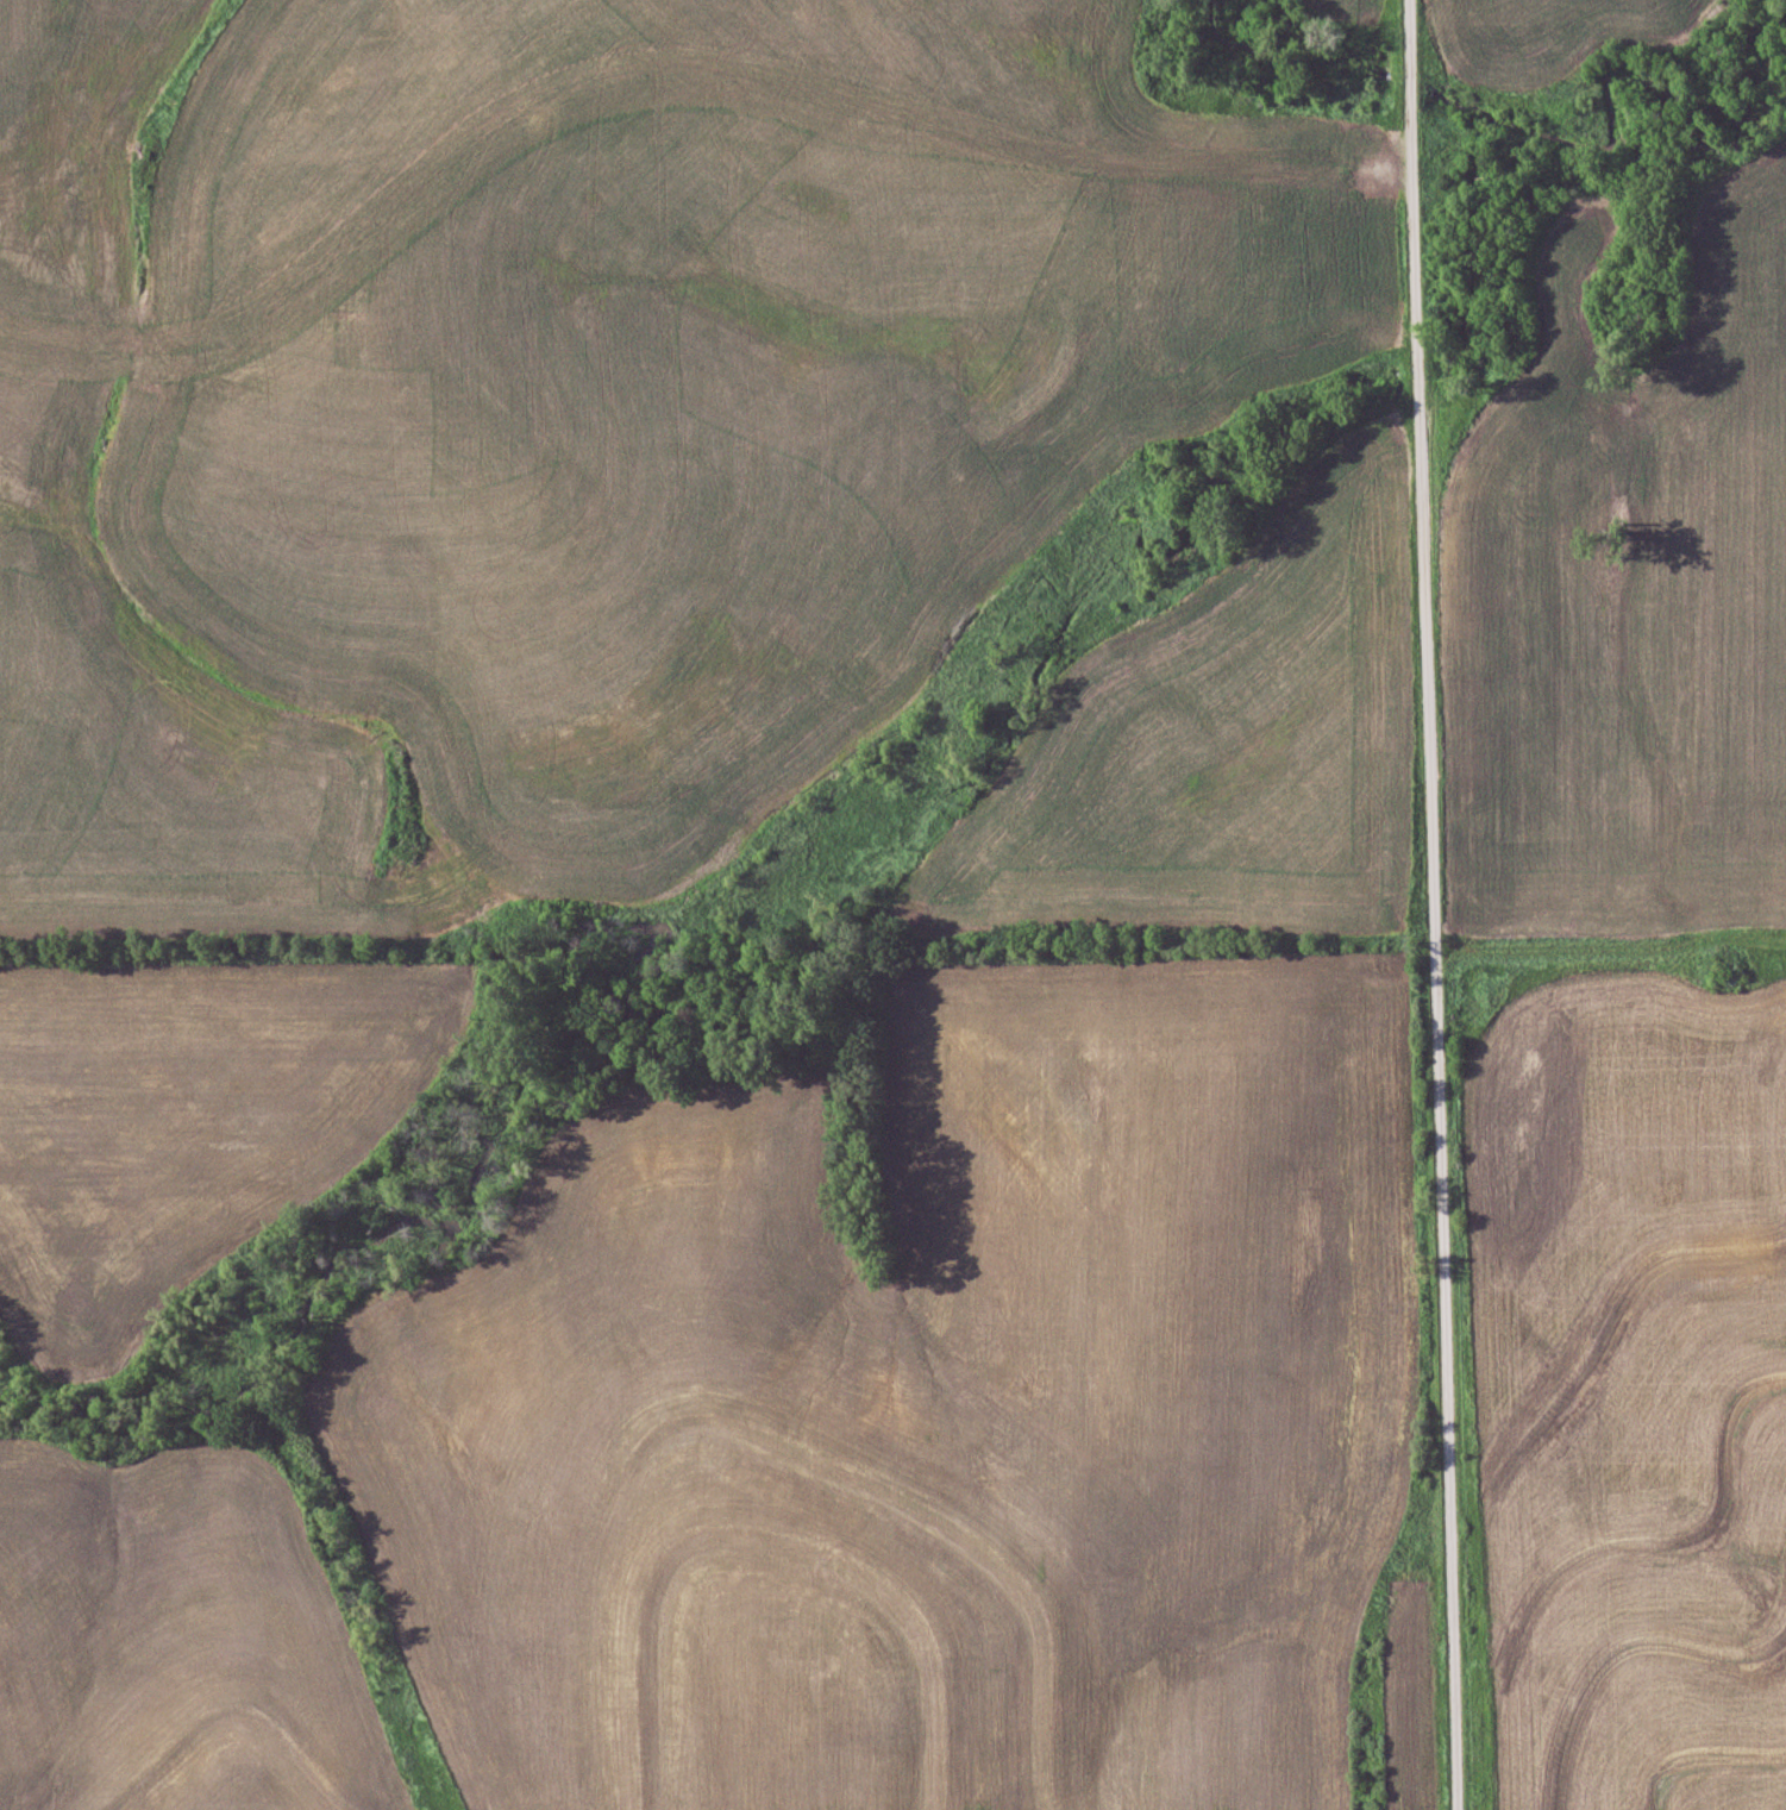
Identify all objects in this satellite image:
road: (1434, 904)

